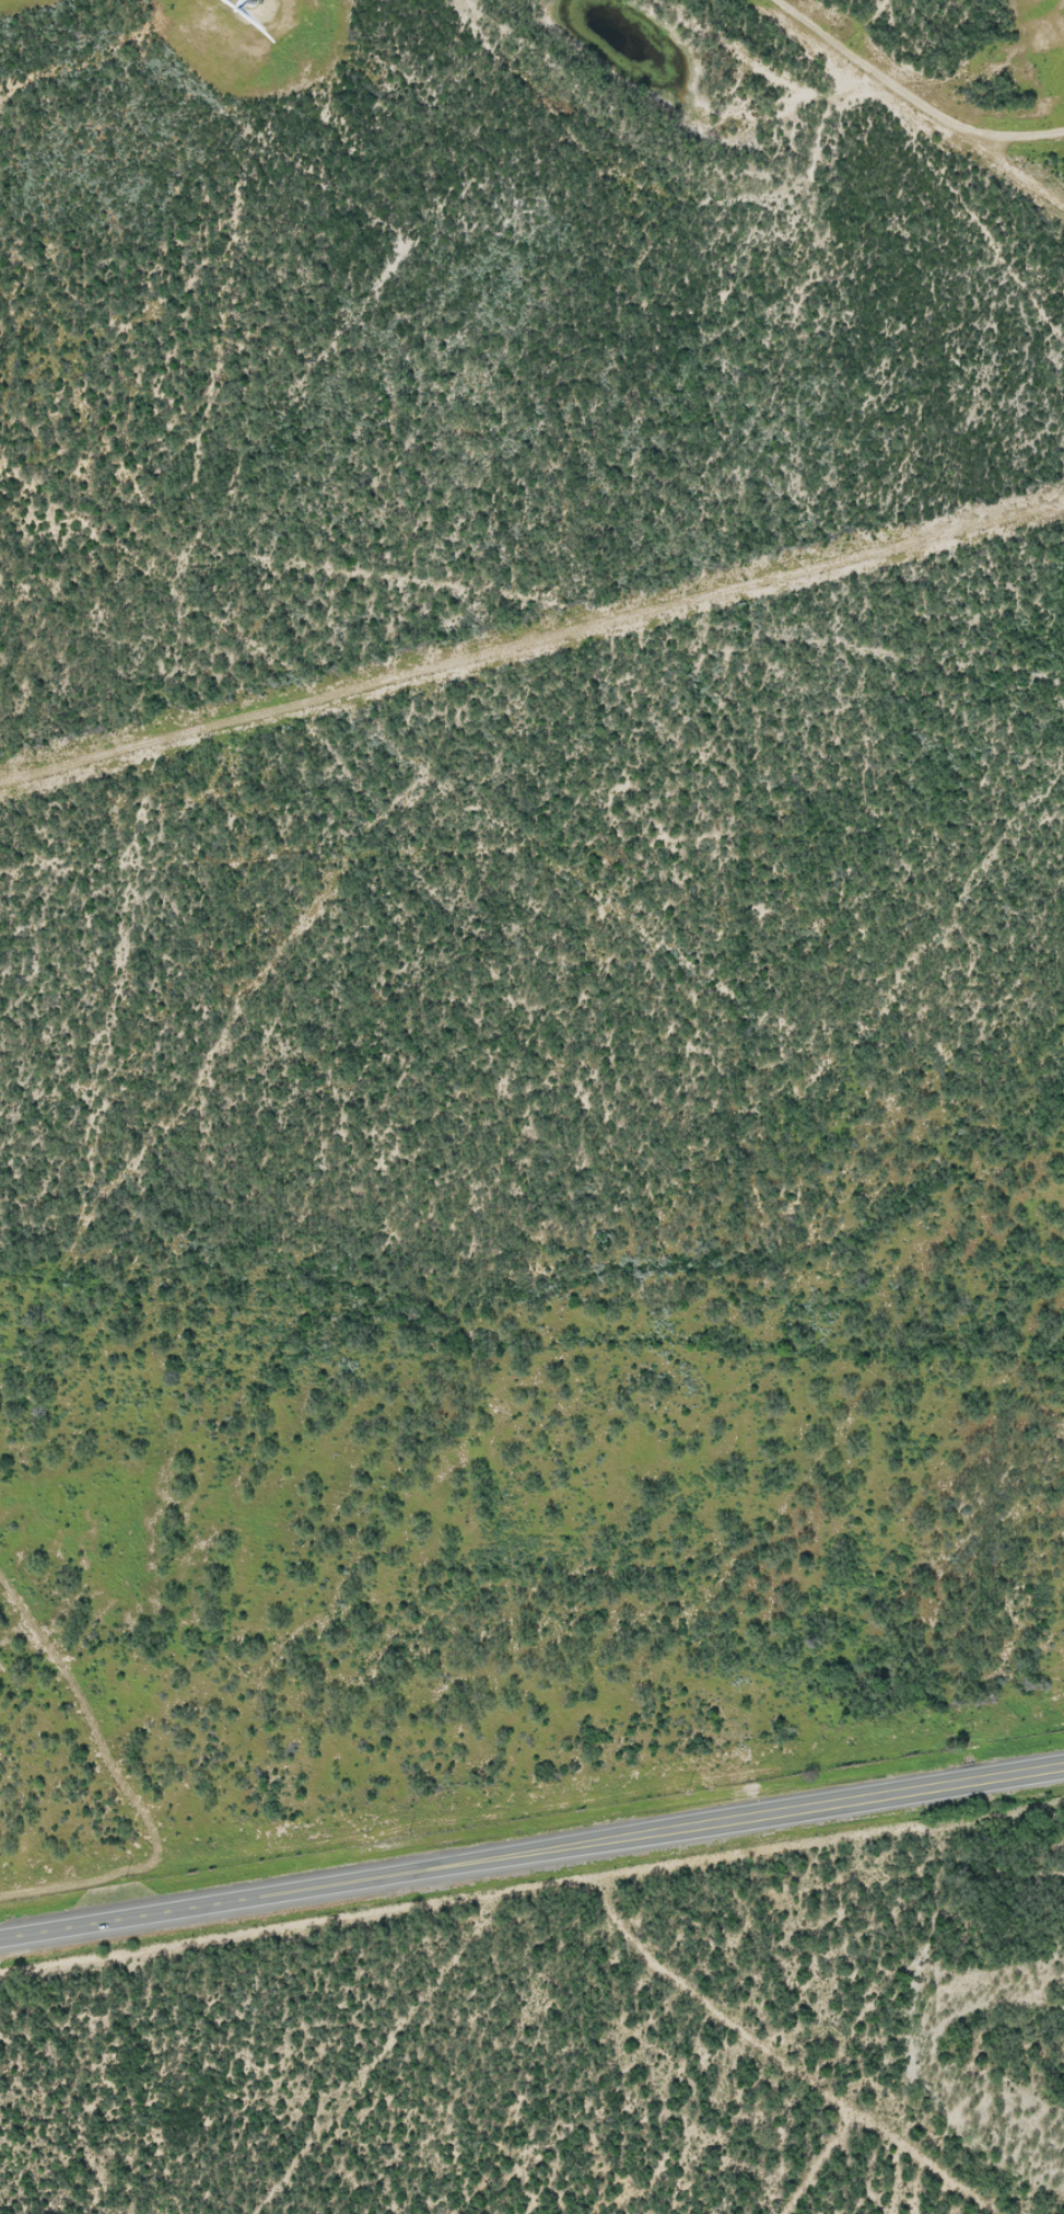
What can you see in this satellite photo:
wind turbine: (254, 1)
road: (451, 625)
road: (531, 1839)

